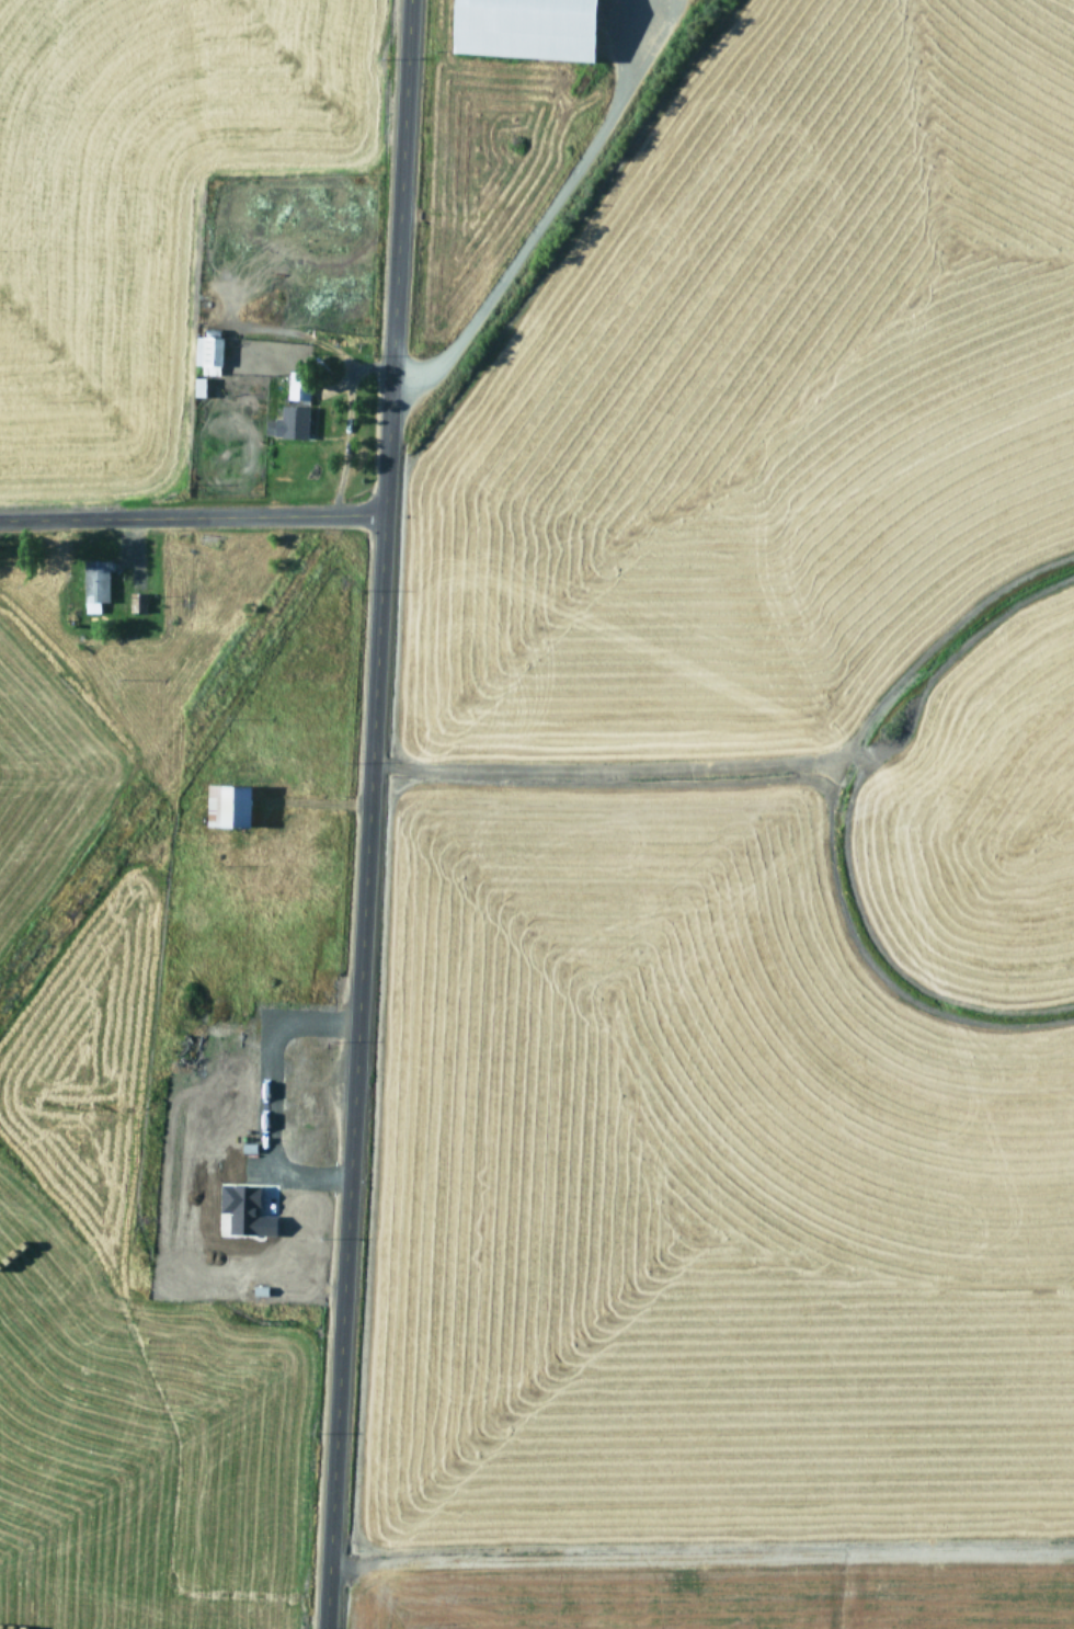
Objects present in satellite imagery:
building: (522, 27)
building: (206, 354)
building: (196, 387)
building: (296, 387)
building: (288, 423)
road: (333, 517)
road: (152, 521)
building: (93, 583)
building: (136, 604)
crop: (161, 784)
building: (225, 806)
road: (357, 814)
crop: (740, 825)
building: (247, 1149)
building: (242, 1209)
building: (259, 1290)

